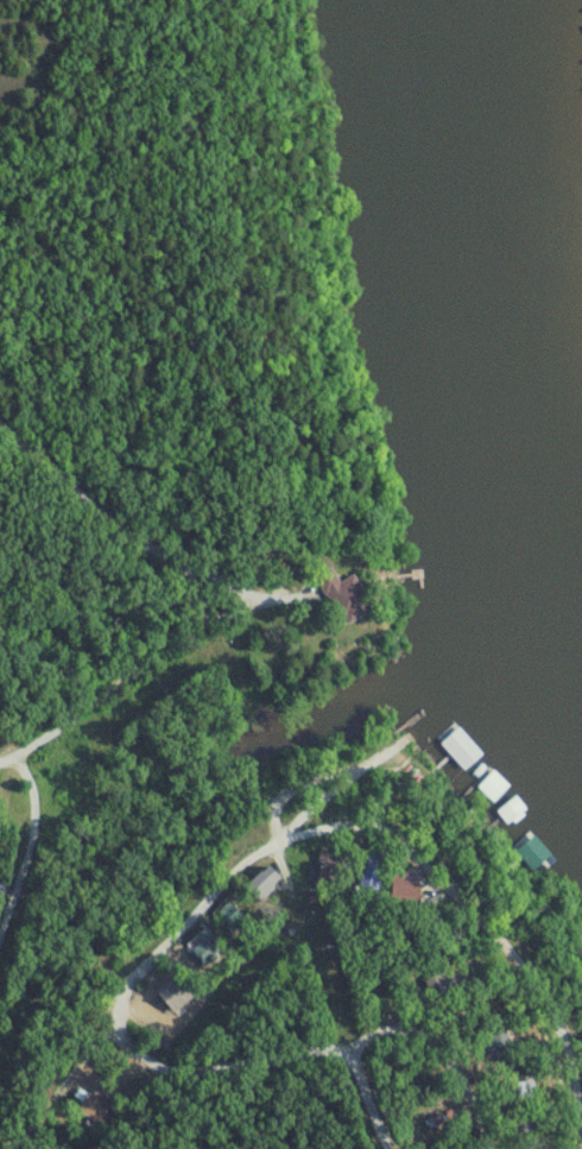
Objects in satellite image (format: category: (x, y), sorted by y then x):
river: (505, 337)
road: (118, 531)
building: (347, 595)
road: (238, 633)
road: (128, 694)
building: (463, 750)
building: (495, 788)
building: (513, 812)
road: (342, 825)
road: (27, 845)
building: (533, 853)
building: (374, 870)
building: (266, 880)
building: (409, 891)
building: (230, 917)
building: (207, 947)
building: (445, 984)
building: (173, 996)
building: (501, 1050)
road: (254, 1062)
building: (97, 1109)
building: (436, 1123)

